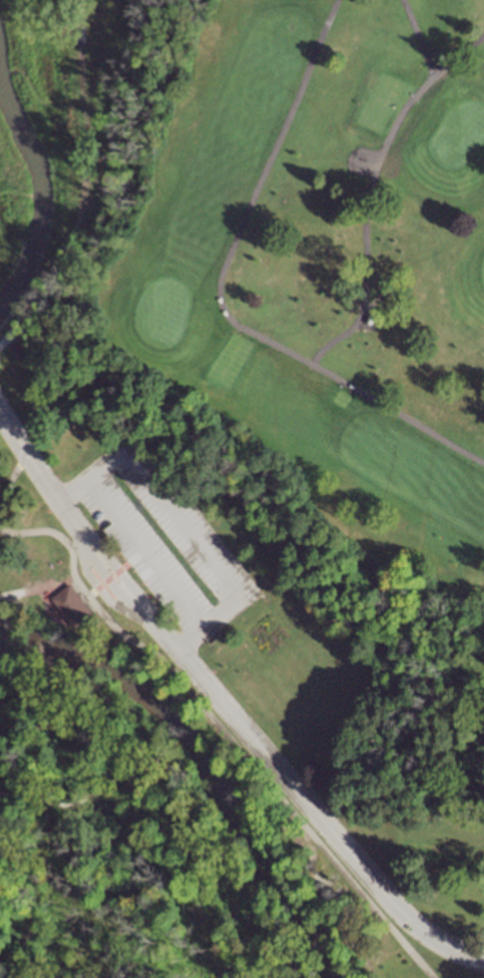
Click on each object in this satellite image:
road: (420, 42)
road: (368, 190)
park: (321, 268)
road: (42, 272)
road: (217, 296)
building: (367, 321)
building: (13, 348)
road: (43, 401)
road: (15, 477)
road: (178, 524)
parking lot: (161, 540)
road: (145, 554)
road: (101, 595)
building: (70, 605)
park: (193, 623)
road: (223, 703)
road: (222, 731)
road: (145, 803)
road: (338, 890)
road: (300, 915)
road: (249, 949)
road: (286, 955)

